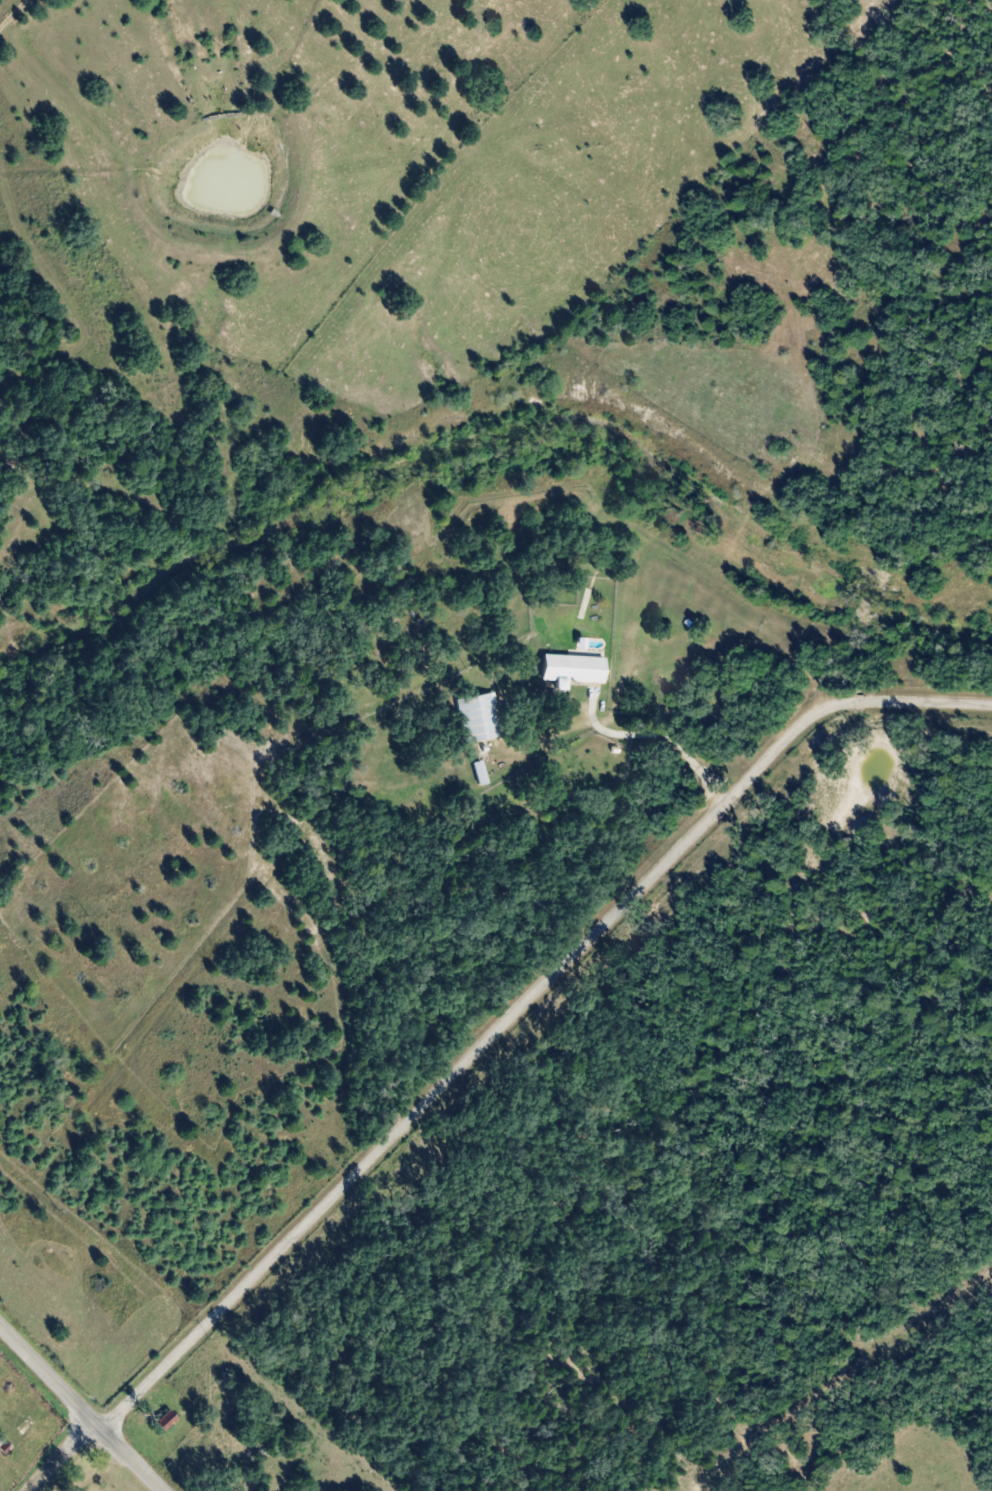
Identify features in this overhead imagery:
road: (16, 129)
building: (570, 669)
building: (477, 717)
building: (479, 772)
road: (519, 1009)
road: (77, 1412)
building: (163, 1421)
road: (59, 1458)

